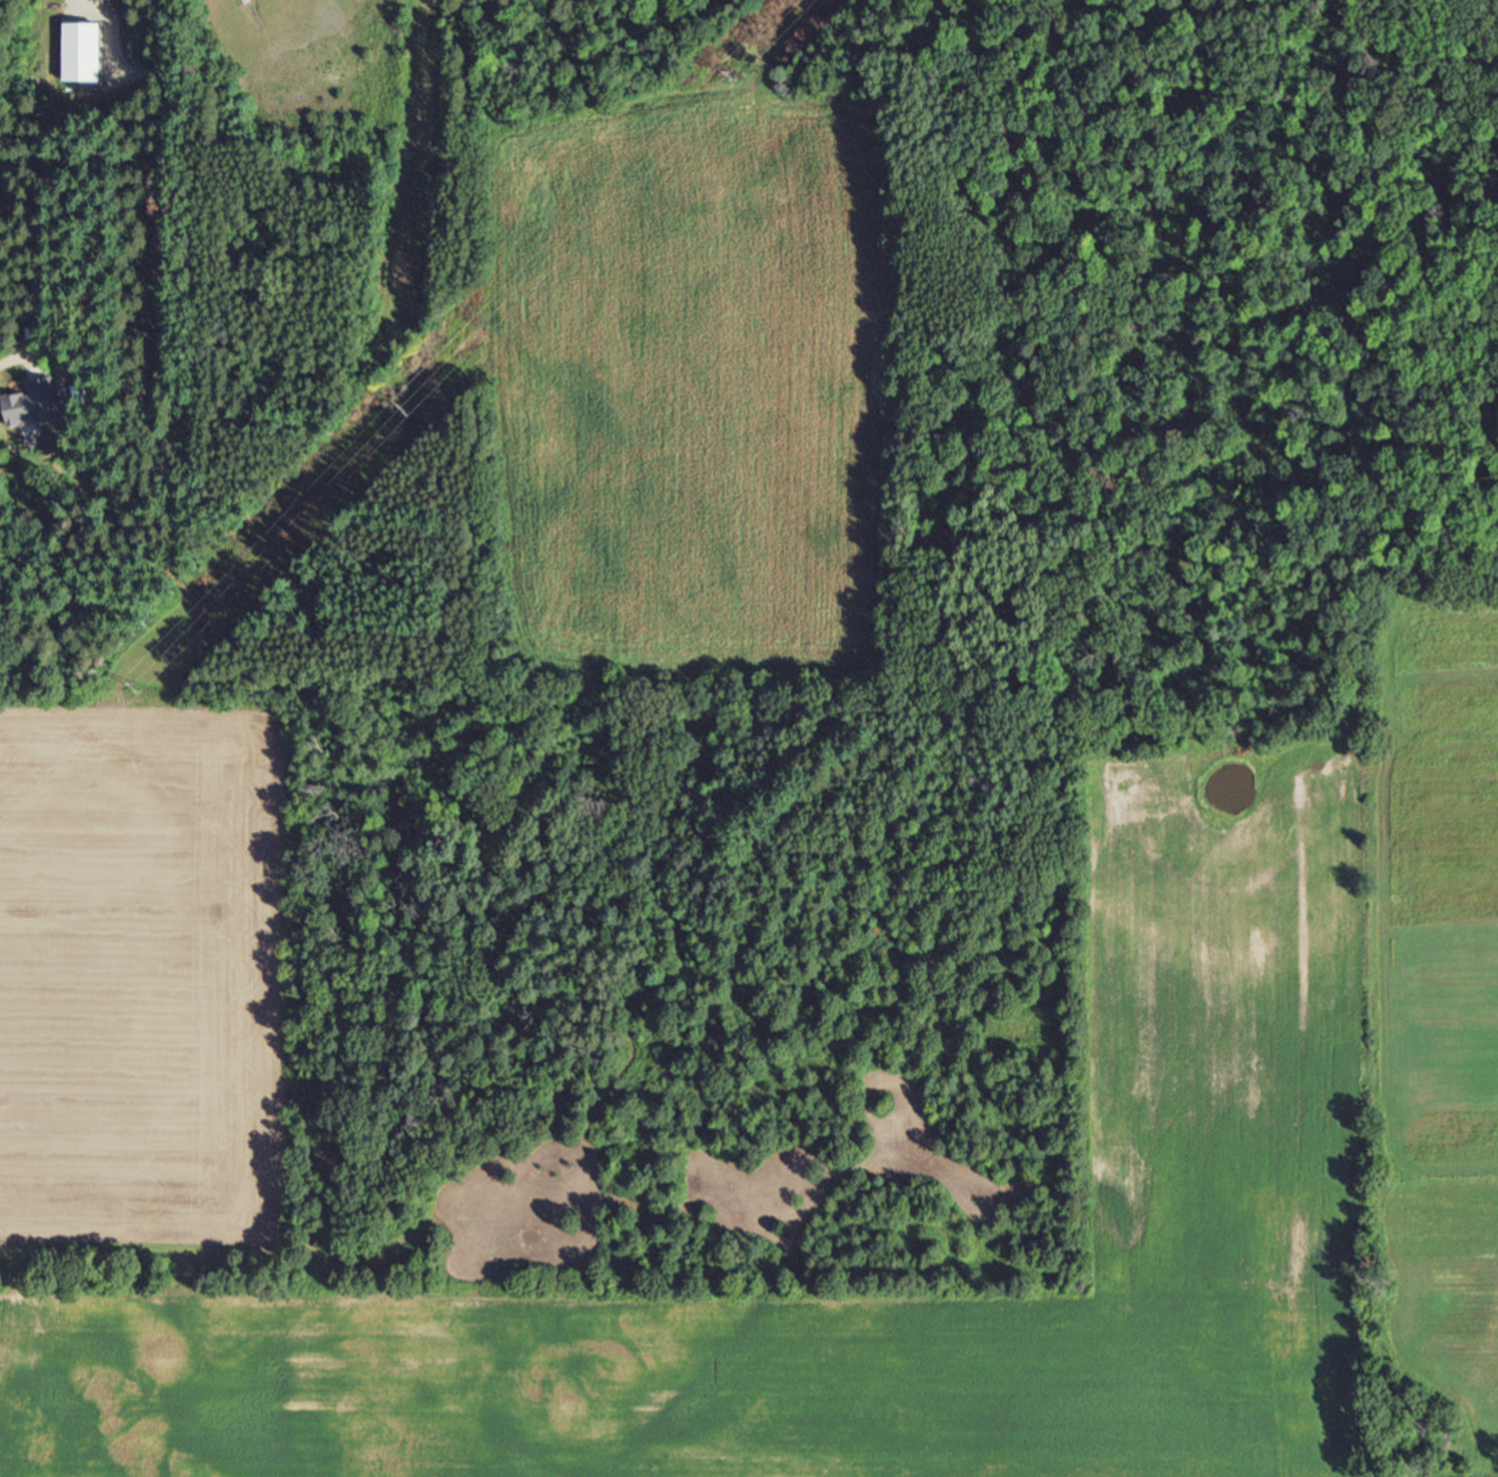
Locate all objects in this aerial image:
building: (86, 57)
power tower: (735, 83)
power tower: (415, 406)
power tower: (138, 693)

